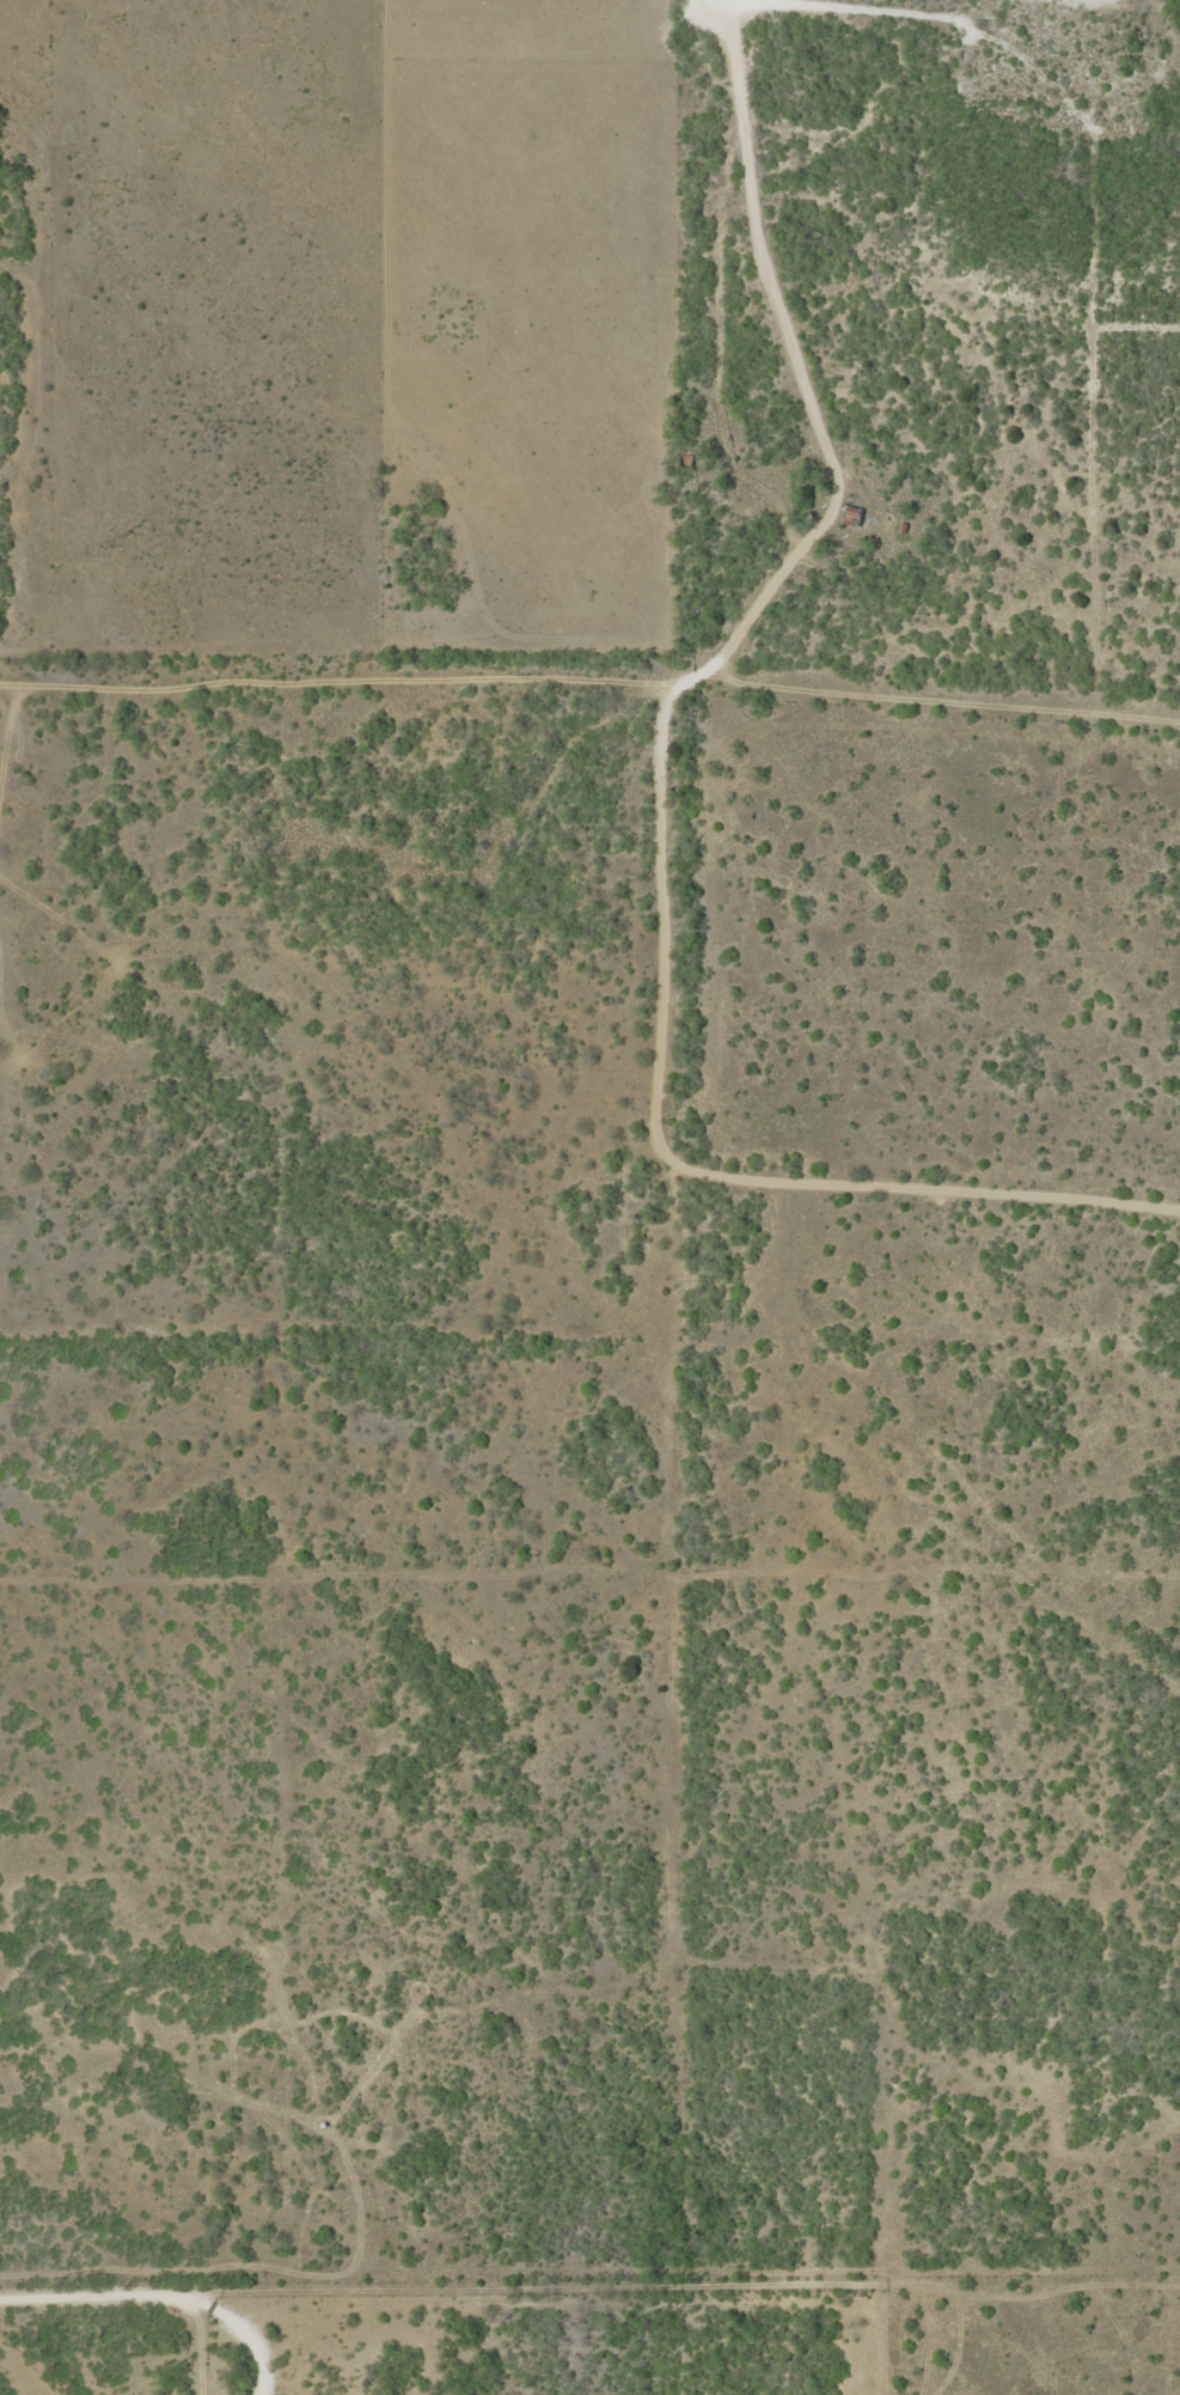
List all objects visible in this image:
building: (850, 517)
road: (680, 792)

